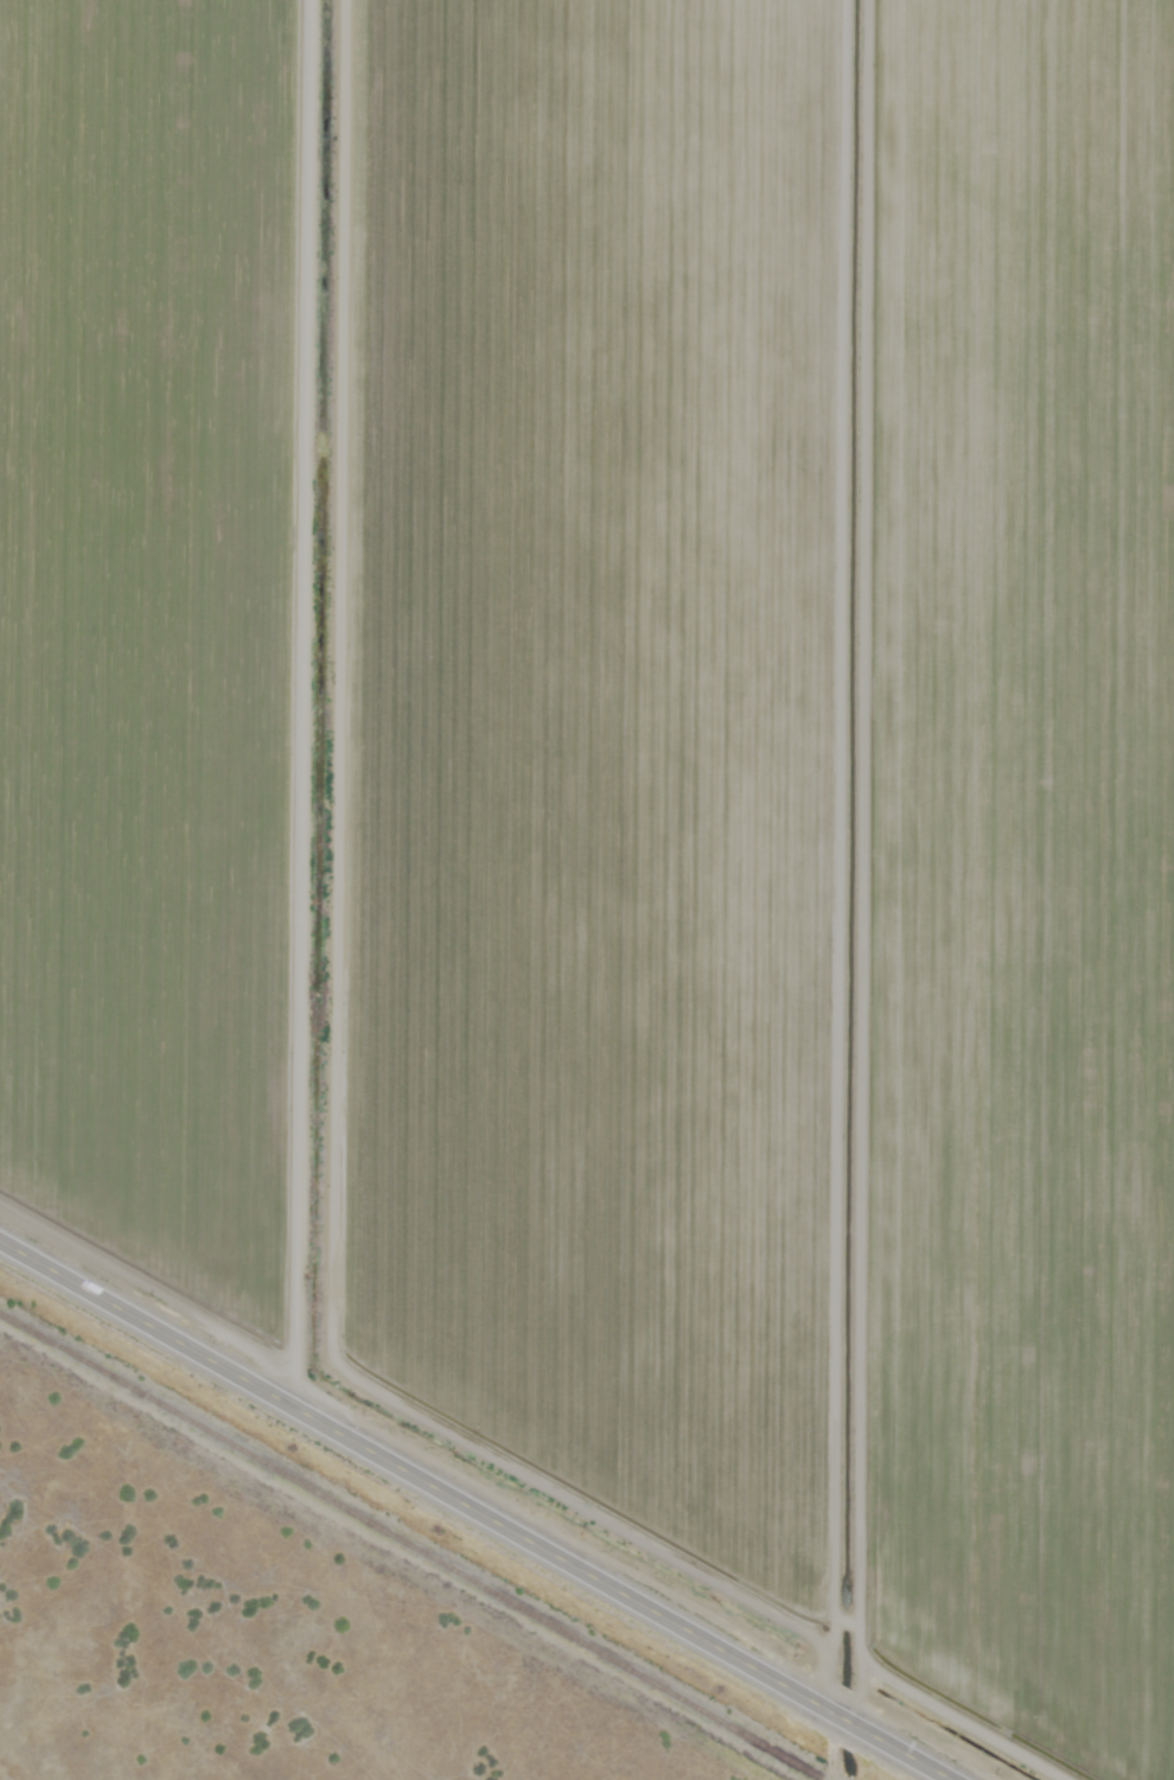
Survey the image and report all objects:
crop: (459, 735)
road: (851, 854)
crop: (1022, 883)
road: (484, 1506)
railway: (411, 1546)

